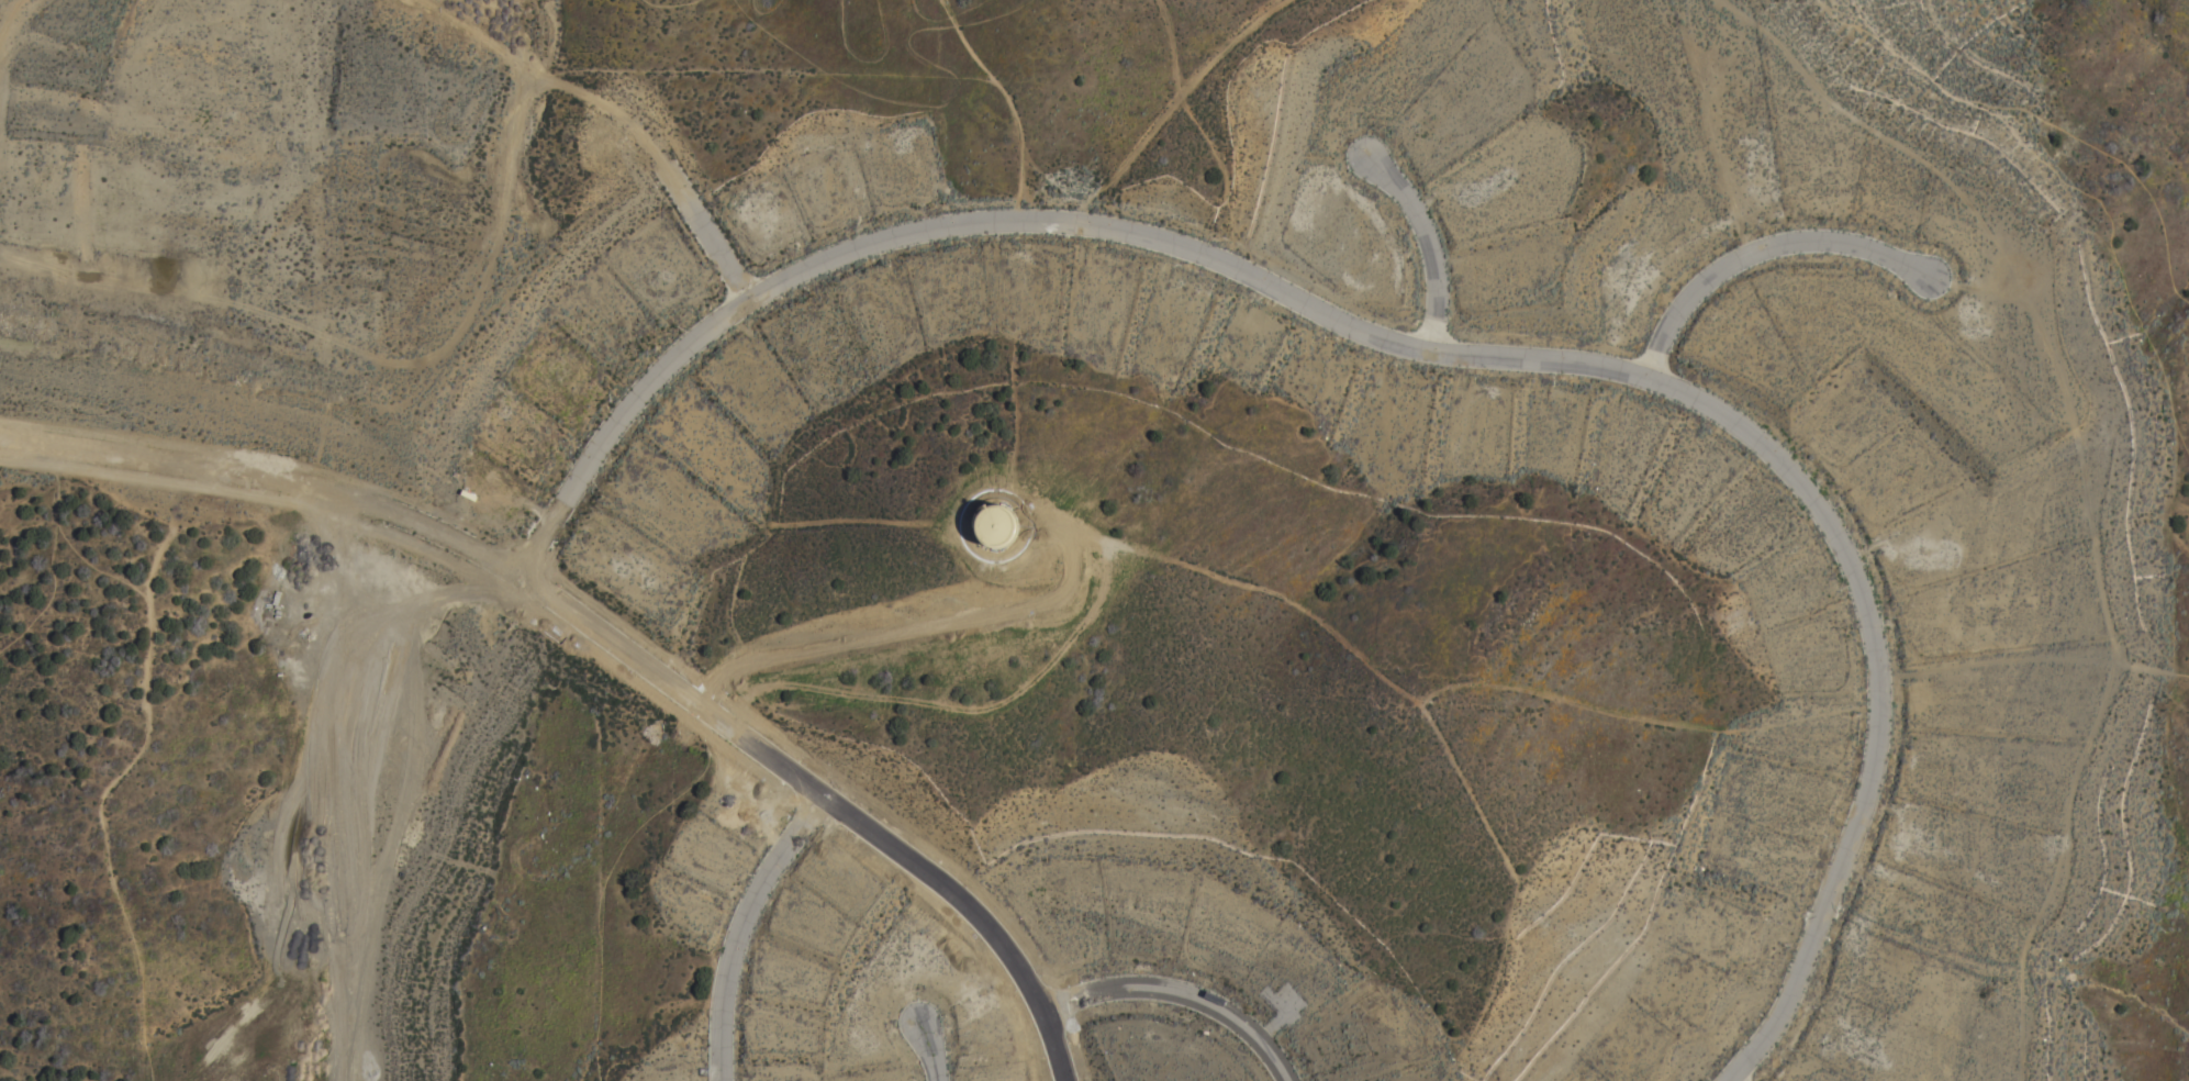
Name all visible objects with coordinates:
road: (545, 73)
road: (767, 74)
road: (1007, 104)
road: (1160, 122)
road: (701, 230)
road: (1428, 247)
road: (1760, 249)
road: (2020, 297)
road: (1418, 352)
building: (996, 526)
storage tank: (996, 526)
road: (2173, 595)
road: (426, 597)
road: (920, 626)
road: (2178, 673)
road: (138, 751)
road: (354, 781)
road: (823, 798)
road: (605, 870)
road: (736, 926)
road: (1176, 995)
road: (926, 1051)
road: (588, 1060)

